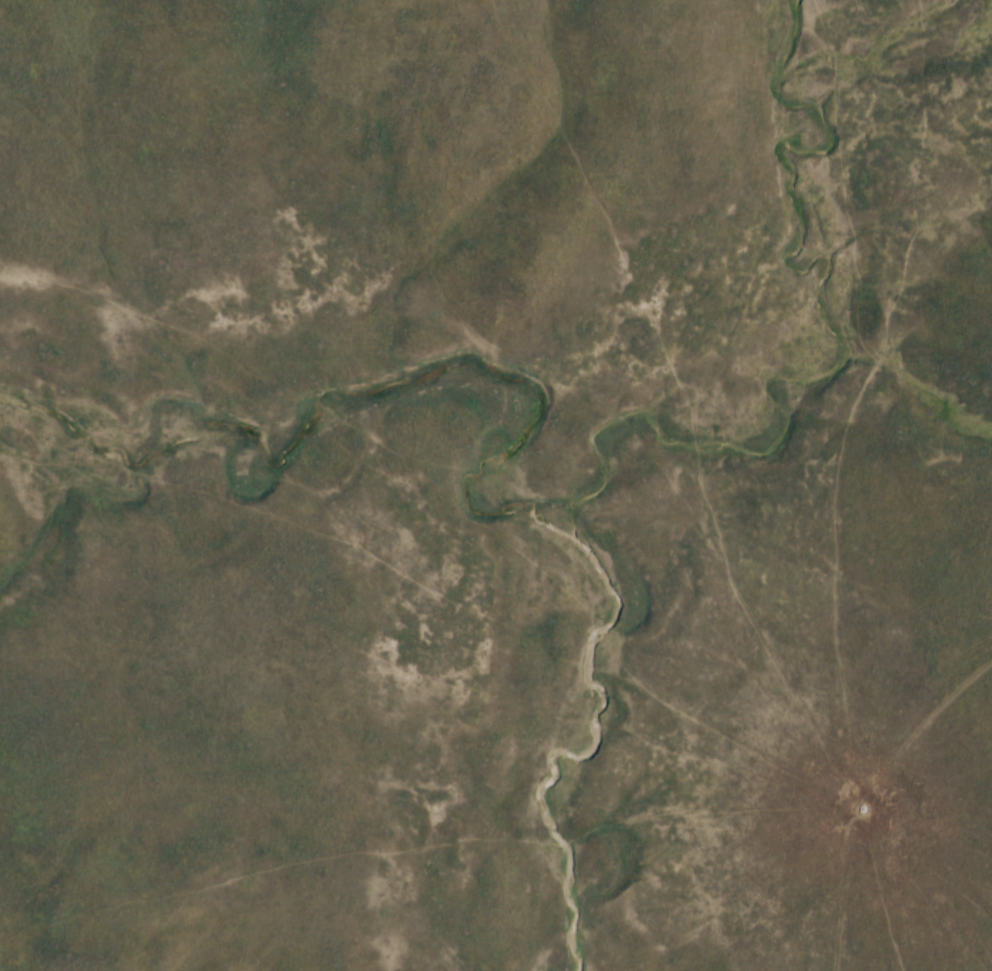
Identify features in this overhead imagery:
building: (861, 806)
storage tank: (861, 806)

